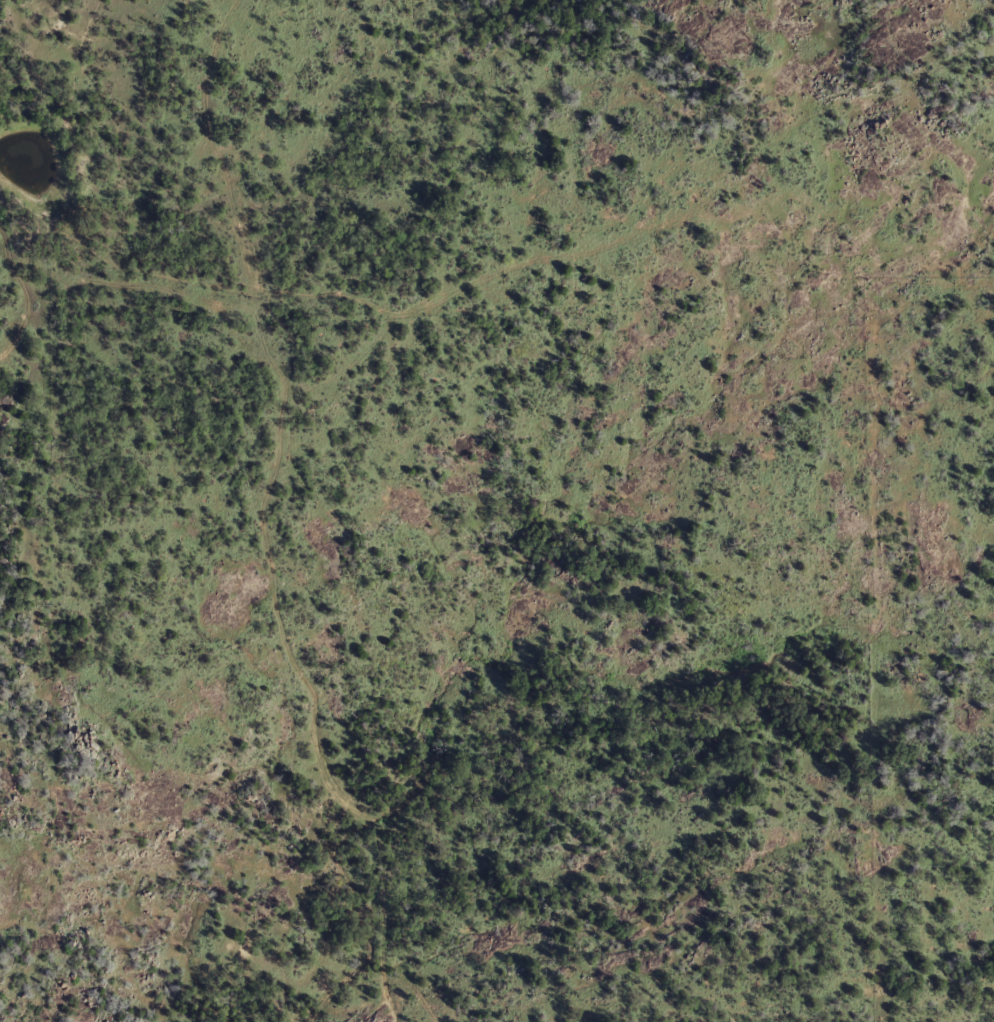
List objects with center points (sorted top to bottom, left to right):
road: (228, 148)
road: (181, 292)
road: (353, 377)

